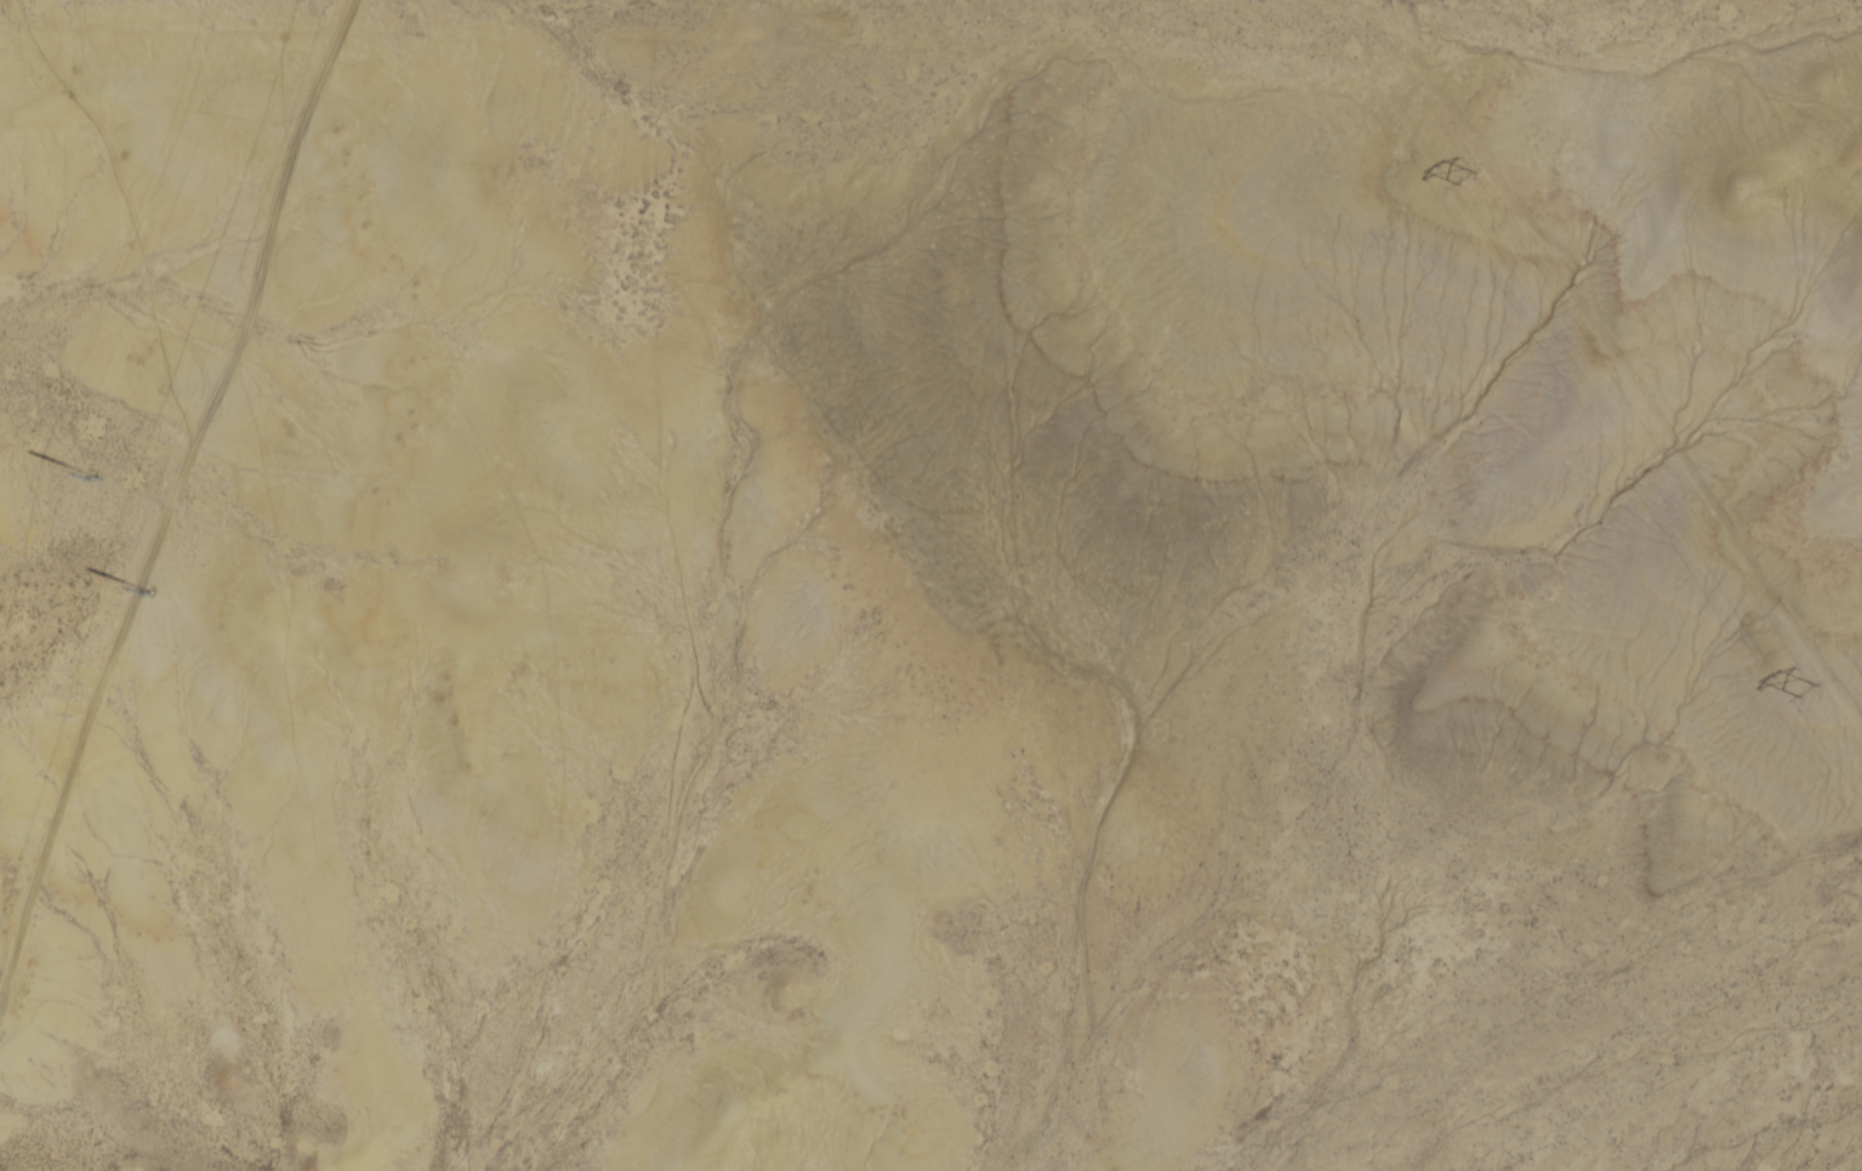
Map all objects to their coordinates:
power tower: (1467, 174)
road: (1619, 362)
power tower: (97, 473)
power tower: (153, 586)
power tower: (1810, 690)

